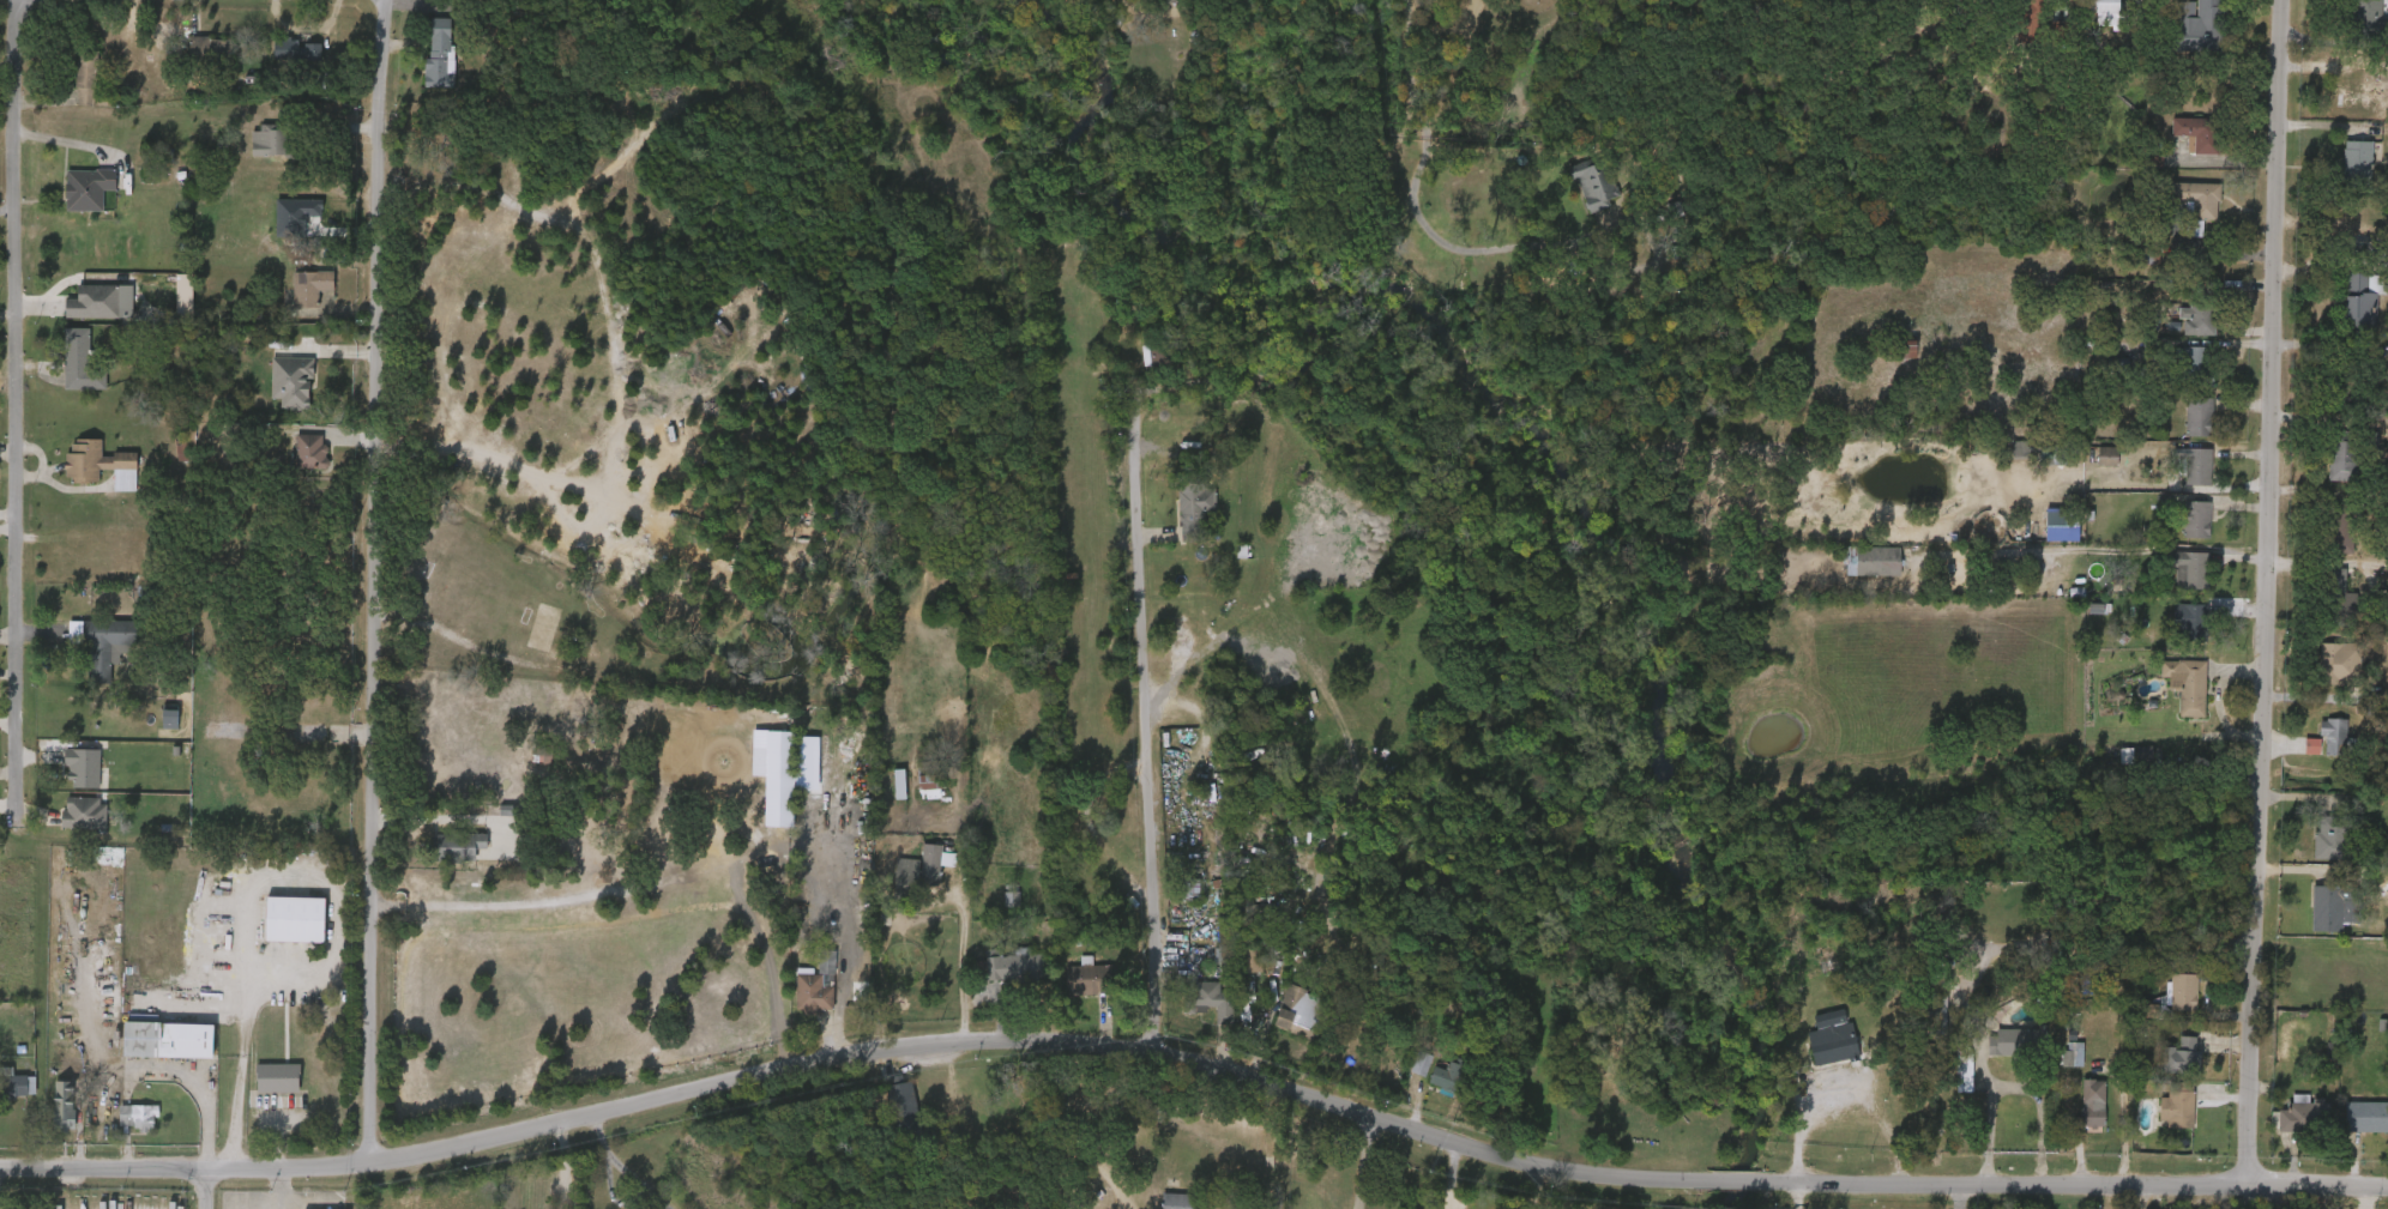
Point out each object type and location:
building: (1159, 1)
building: (2112, 11)
building: (2087, 14)
building: (2369, 18)
building: (2030, 24)
building: (2348, 25)
building: (2201, 26)
building: (2179, 35)
building: (212, 52)
building: (440, 53)
building: (302, 55)
building: (193, 59)
building: (423, 65)
building: (89, 75)
building: (2353, 86)
building: (70, 91)
building: (2330, 97)
building: (2201, 133)
building: (270, 139)
building: (2178, 144)
building: (253, 151)
building: (2363, 163)
building: (2338, 170)
building: (1594, 180)
building: (90, 187)
building: (1575, 194)
building: (2197, 198)
building: (71, 199)
road: (1416, 202)
building: (2178, 208)
building: (2177, 238)
building: (2143, 258)
building: (313, 285)
building: (294, 297)
building: (96, 300)
building: (2364, 302)
building: (2341, 312)
building: (2202, 316)
building: (2178, 331)
building: (83, 359)
building: (1159, 359)
building: (2199, 365)
building: (2175, 369)
building: (64, 373)
building: (2347, 379)
building: (294, 380)
road: (8, 391)
building: (275, 392)
building: (2380, 405)
building: (2199, 416)
building: (2181, 428)
building: (314, 451)
building: (2346, 453)
building: (2104, 457)
building: (2006, 460)
building: (294, 461)
building: (102, 463)
building: (2089, 466)
building: (2199, 466)
building: (2322, 472)
building: (83, 474)
building: (2179, 477)
building: (1196, 506)
building: (1177, 519)
building: (2194, 519)
building: (2342, 527)
building: (2175, 528)
building: (2044, 536)
building: (2321, 545)
road: (2103, 549)
road: (2230, 552)
building: (1871, 561)
building: (2191, 569)
building: (2171, 579)
road: (369, 582)
building: (2317, 592)
road: (2263, 593)
building: (2335, 596)
building: (2191, 621)
building: (2170, 630)
building: (105, 645)
building: (2342, 664)
building: (2318, 673)
building: (2187, 685)
building: (2169, 695)
building: (171, 718)
building: (152, 726)
road: (1126, 733)
building: (2340, 737)
building: (2316, 745)
building: (549, 756)
building: (2293, 756)
building: (2125, 764)
building: (2107, 766)
building: (2004, 769)
building: (66, 778)
building: (931, 779)
building: (761, 788)
building: (882, 793)
building: (911, 796)
building: (67, 823)
building: (2338, 838)
building: (458, 846)
building: (2312, 848)
building: (439, 856)
building: (921, 870)
building: (1189, 889)
road: (258, 891)
building: (2068, 902)
building: (2338, 902)
road: (554, 907)
building: (994, 909)
building: (296, 917)
building: (2312, 919)
building: (1226, 941)
building: (1252, 955)
road: (338, 963)
building: (1011, 966)
building: (1234, 972)
road: (961, 977)
building: (1089, 978)
building: (818, 985)
building: (797, 997)
building: (1293, 998)
building: (2173, 998)
building: (1940, 999)
building: (1211, 1001)
building: (1193, 1009)
building: (1282, 1022)
building: (1811, 1028)
building: (169, 1039)
building: (1837, 1039)
building: (2020, 1044)
building: (2315, 1051)
building: (1814, 1056)
building: (2184, 1057)
building: (2054, 1066)
building: (2163, 1066)
building: (1964, 1069)
road: (1193, 1071)
road: (252, 1072)
building: (1403, 1074)
building: (1449, 1075)
building: (279, 1076)
building: (1946, 1083)
building: (14, 1086)
building: (1430, 1086)
building: (261, 1087)
building: (67, 1104)
building: (2181, 1106)
building: (2089, 1107)
building: (2075, 1112)
building: (2303, 1114)
building: (48, 1116)
building: (139, 1116)
building: (2368, 1117)
building: (2158, 1118)
building: (887, 1119)
building: (915, 1119)
road: (1992, 1120)
road: (1807, 1122)
building: (121, 1125)
road: (1081, 1126)
building: (2347, 1126)
building: (2383, 1141)
road: (1362, 1165)
road: (198, 1187)
road: (611, 1191)
road: (1796, 1196)
building: (1176, 1201)

